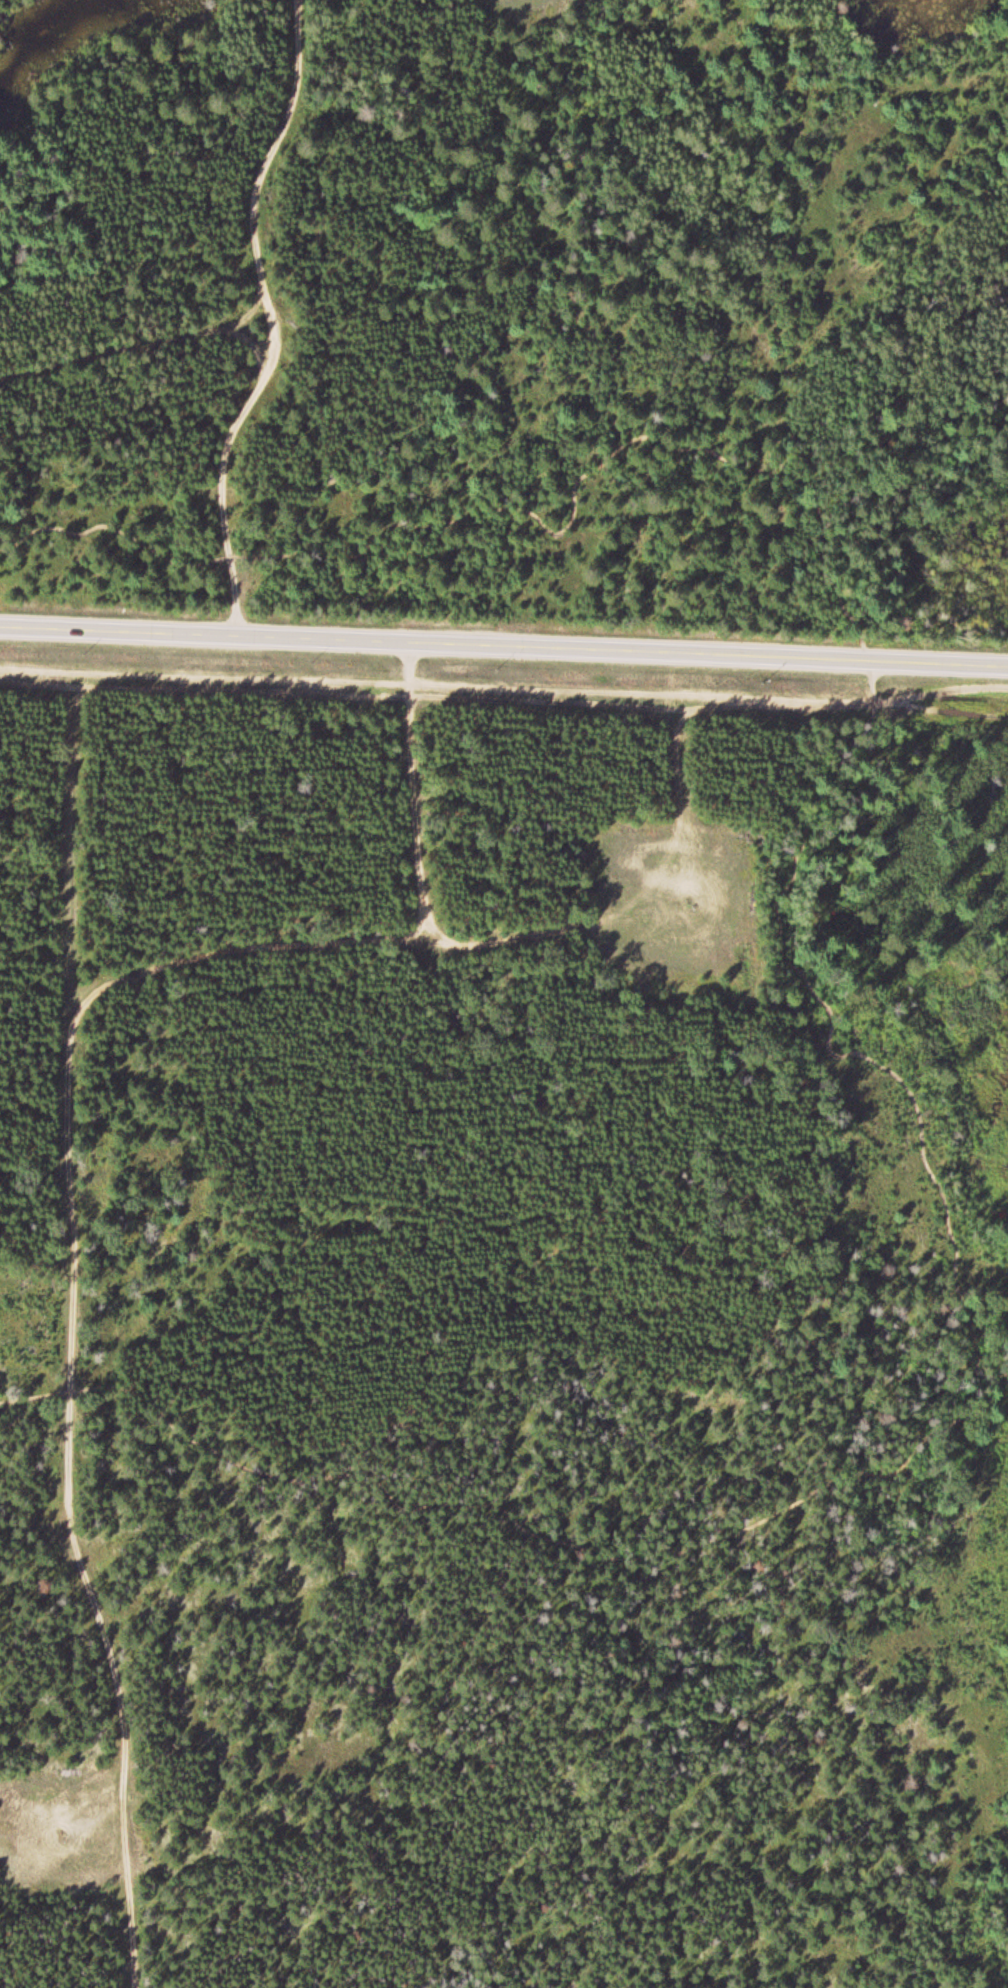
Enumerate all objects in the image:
road: (275, 320)
road: (146, 346)
road: (256, 353)
road: (504, 645)
road: (416, 883)
road: (832, 1024)
road: (71, 1312)
road: (42, 1534)

